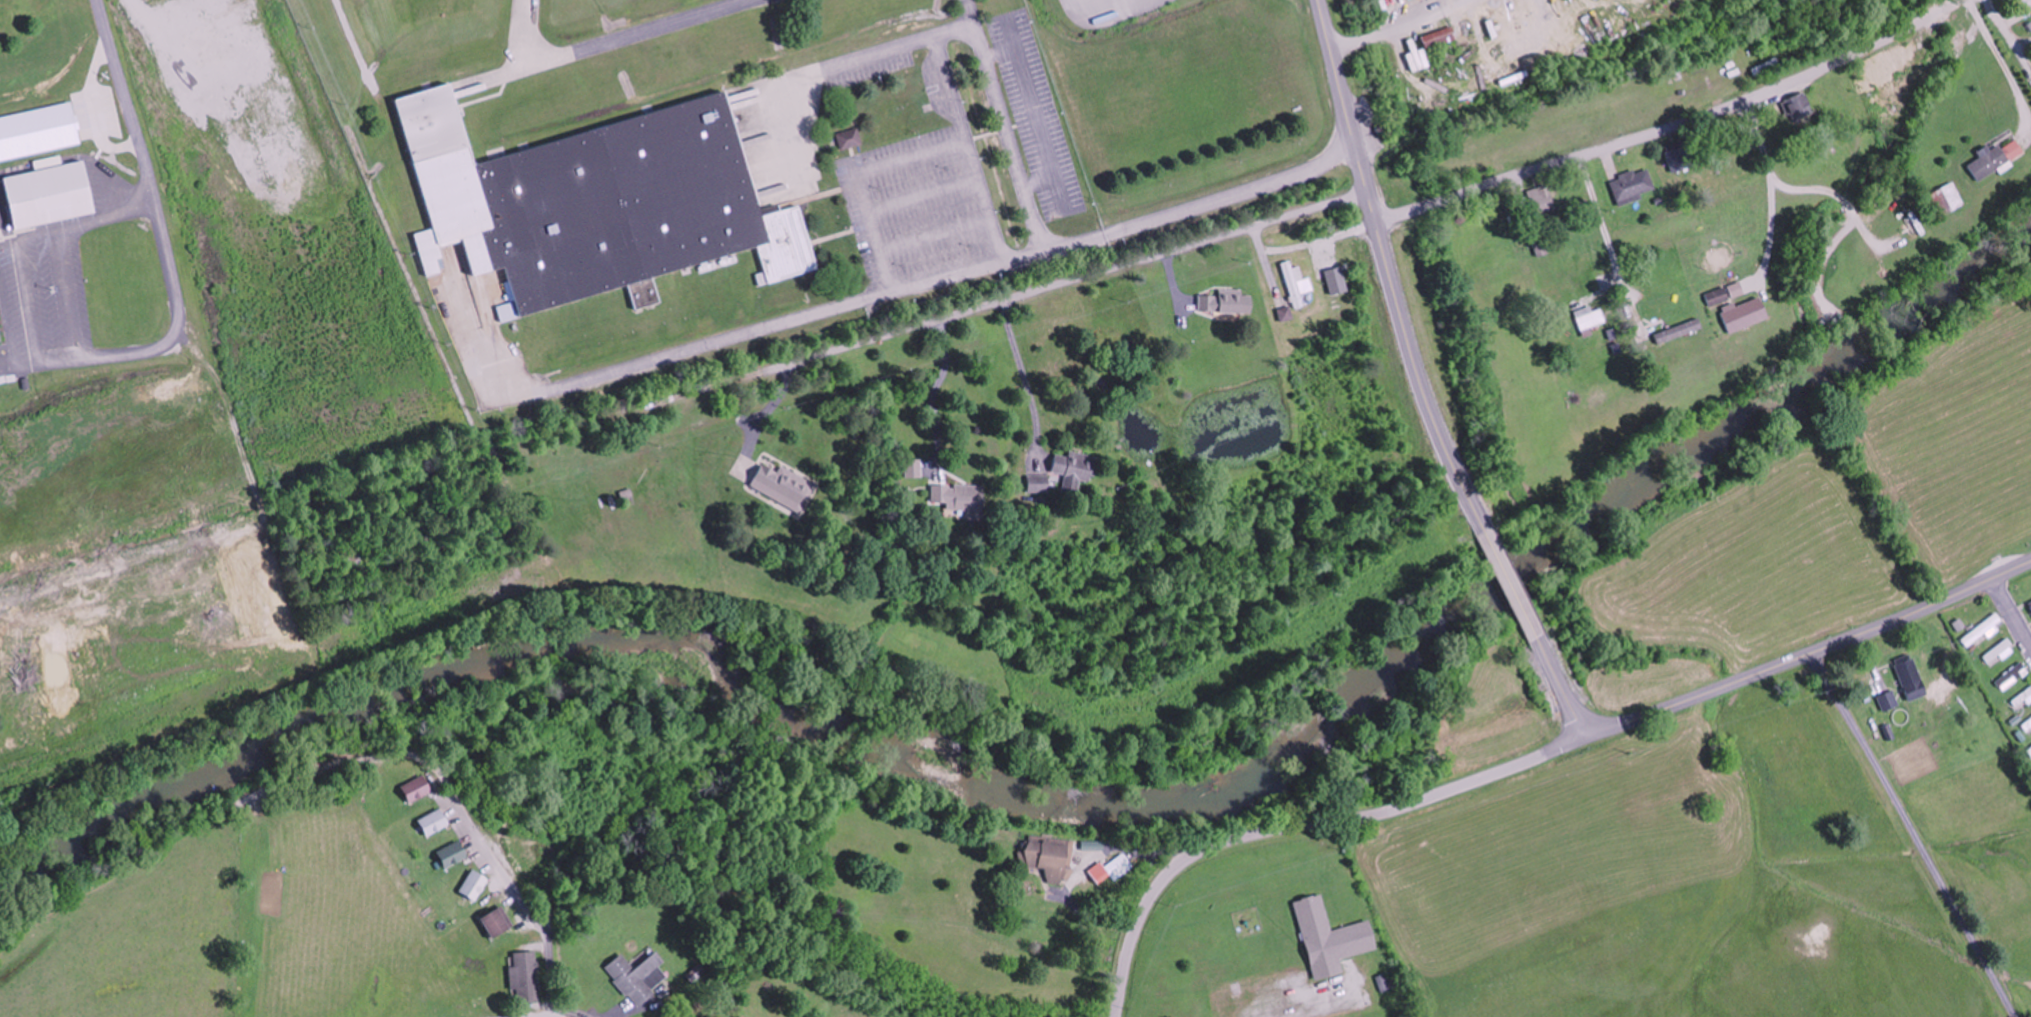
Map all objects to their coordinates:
building: (1410, 0)
building: (2025, 6)
building: (1442, 38)
building: (1885, 69)
road: (126, 97)
building: (1799, 111)
road: (1673, 126)
building: (851, 139)
building: (1677, 159)
building: (1995, 159)
building: (1633, 186)
building: (49, 197)
building: (1947, 199)
building: (598, 203)
building: (1542, 203)
road: (1388, 269)
road: (923, 279)
building: (1296, 285)
building: (1735, 290)
building: (1717, 297)
building: (1226, 303)
building: (1744, 315)
building: (1589, 318)
building: (1676, 331)
building: (1641, 333)
building: (914, 467)
building: (1074, 469)
building: (1037, 483)
building: (783, 485)
building: (959, 500)
road: (1510, 585)
building: (2029, 602)
road: (2013, 611)
building: (1982, 630)
building: (1999, 653)
road: (1810, 654)
building: (1908, 671)
building: (2011, 676)
road: (1562, 689)
building: (2022, 699)
building: (1887, 700)
building: (2028, 726)
building: (415, 788)
river: (1051, 792)
road: (461, 795)
building: (432, 821)
road: (1302, 830)
road: (1916, 834)
building: (451, 854)
building: (1049, 858)
building: (1106, 870)
building: (473, 885)
building: (496, 922)
building: (1329, 938)
building: (525, 976)
building: (637, 976)
building: (1383, 982)

